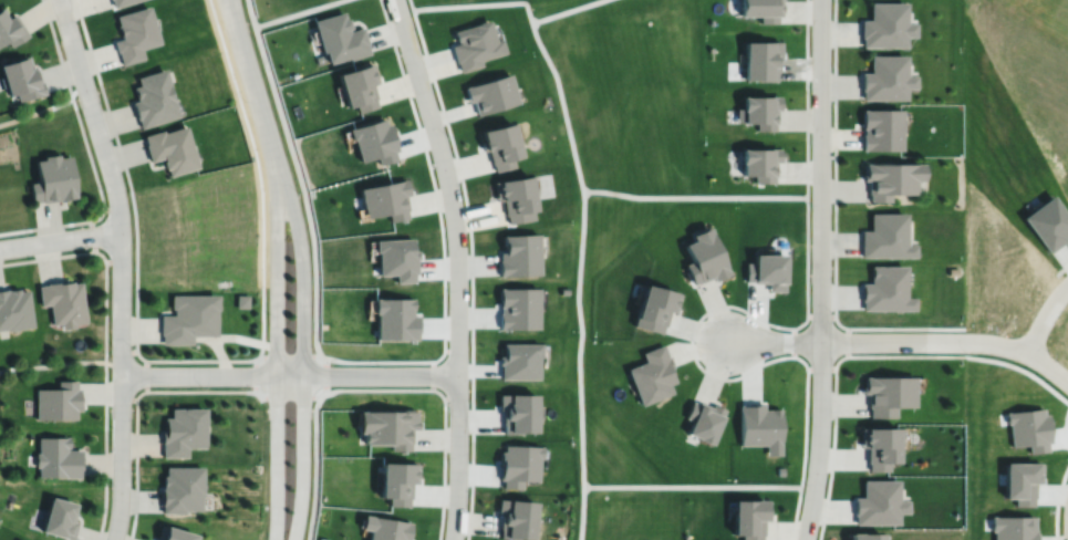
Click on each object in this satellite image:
building: (117, 1)
road: (228, 1)
road: (228, 1)
building: (759, 8)
road: (563, 10)
road: (294, 12)
building: (884, 24)
building: (10, 28)
building: (133, 33)
building: (338, 37)
building: (473, 44)
road: (395, 50)
building: (760, 59)
building: (21, 77)
building: (884, 77)
building: (356, 85)
road: (253, 89)
building: (489, 93)
building: (152, 98)
road: (43, 107)
building: (758, 111)
road: (443, 114)
building: (880, 128)
building: (497, 145)
building: (169, 149)
road: (89, 155)
building: (758, 163)
building: (52, 179)
building: (889, 179)
road: (303, 195)
road: (791, 196)
building: (514, 198)
building: (384, 199)
road: (582, 209)
road: (833, 225)
building: (884, 237)
road: (60, 239)
road: (135, 239)
building: (517, 256)
building: (703, 258)
road: (121, 266)
road: (457, 266)
road: (820, 270)
building: (765, 271)
building: (884, 289)
building: (241, 301)
building: (63, 302)
building: (516, 308)
building: (653, 308)
building: (14, 310)
road: (1045, 314)
building: (187, 319)
road: (766, 322)
road: (774, 340)
road: (948, 340)
road: (104, 345)
road: (288, 355)
road: (302, 355)
road: (276, 357)
road: (60, 362)
building: (517, 362)
building: (651, 372)
road: (255, 374)
road: (289, 374)
road: (834, 385)
road: (250, 390)
building: (889, 391)
building: (58, 398)
building: (703, 417)
building: (760, 424)
building: (388, 425)
building: (182, 428)
building: (880, 443)
building: (56, 455)
building: (516, 466)
road: (314, 467)
building: (397, 478)
road: (718, 485)
building: (180, 486)
building: (879, 500)
building: (61, 515)
road: (469, 515)
building: (517, 516)
building: (748, 516)
building: (386, 527)
building: (175, 532)
building: (865, 534)
building: (21, 539)

